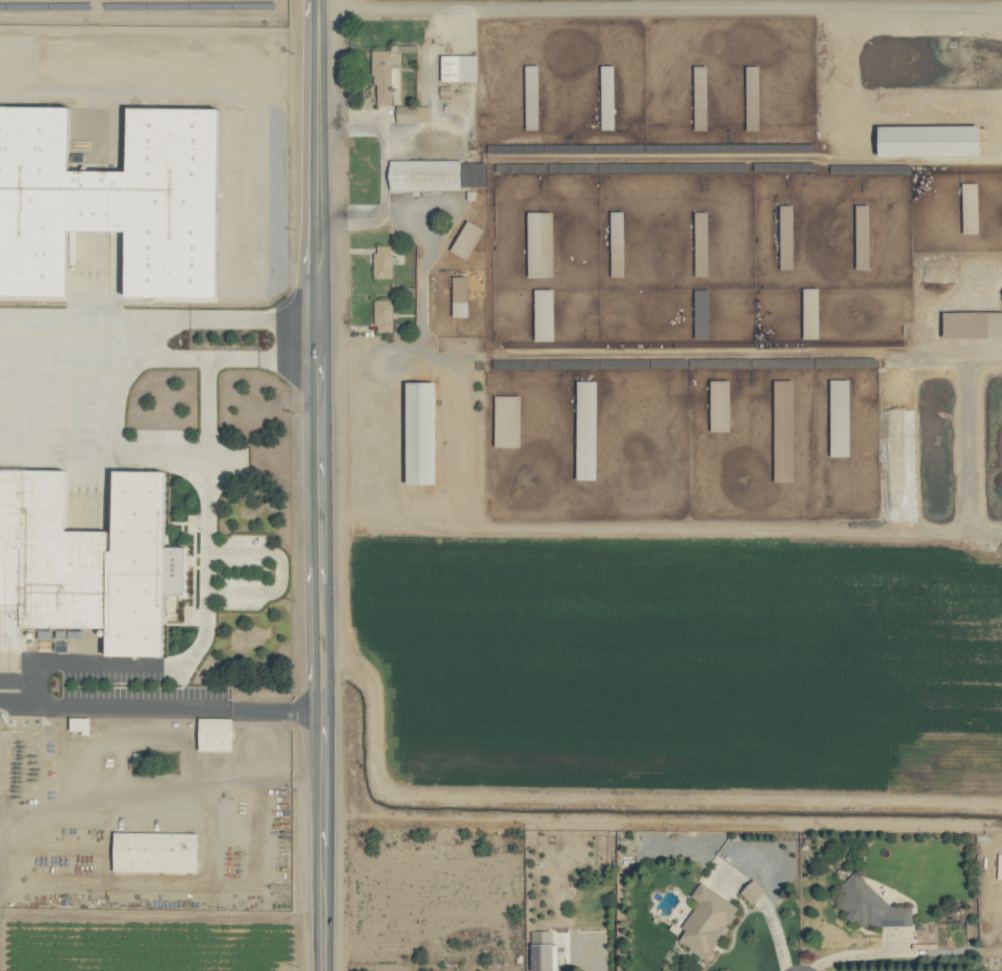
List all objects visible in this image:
road: (643, 8)
building: (459, 68)
building: (386, 73)
building: (532, 97)
building: (607, 97)
building: (412, 113)
building: (930, 141)
building: (473, 174)
building: (425, 175)
building: (132, 180)
building: (786, 237)
building: (862, 237)
building: (467, 240)
building: (701, 243)
building: (617, 244)
building: (541, 245)
building: (383, 262)
crop: (654, 272)
building: (460, 296)
building: (702, 314)
building: (383, 315)
building: (544, 315)
road: (224, 318)
building: (973, 325)
road: (67, 334)
road: (222, 362)
building: (720, 404)
road: (209, 410)
building: (840, 417)
building: (783, 419)
building: (507, 420)
building: (587, 429)
building: (422, 431)
road: (318, 485)
crop: (501, 485)
building: (53, 512)
road: (418, 528)
road: (759, 528)
road: (207, 532)
building: (139, 564)
road: (277, 572)
crop: (657, 665)
road: (15, 691)
road: (174, 710)
building: (79, 724)
building: (215, 733)
road: (204, 783)
building: (154, 851)
building: (752, 891)
building: (871, 905)
building: (707, 920)
road: (775, 934)
building: (544, 951)
road: (852, 956)

